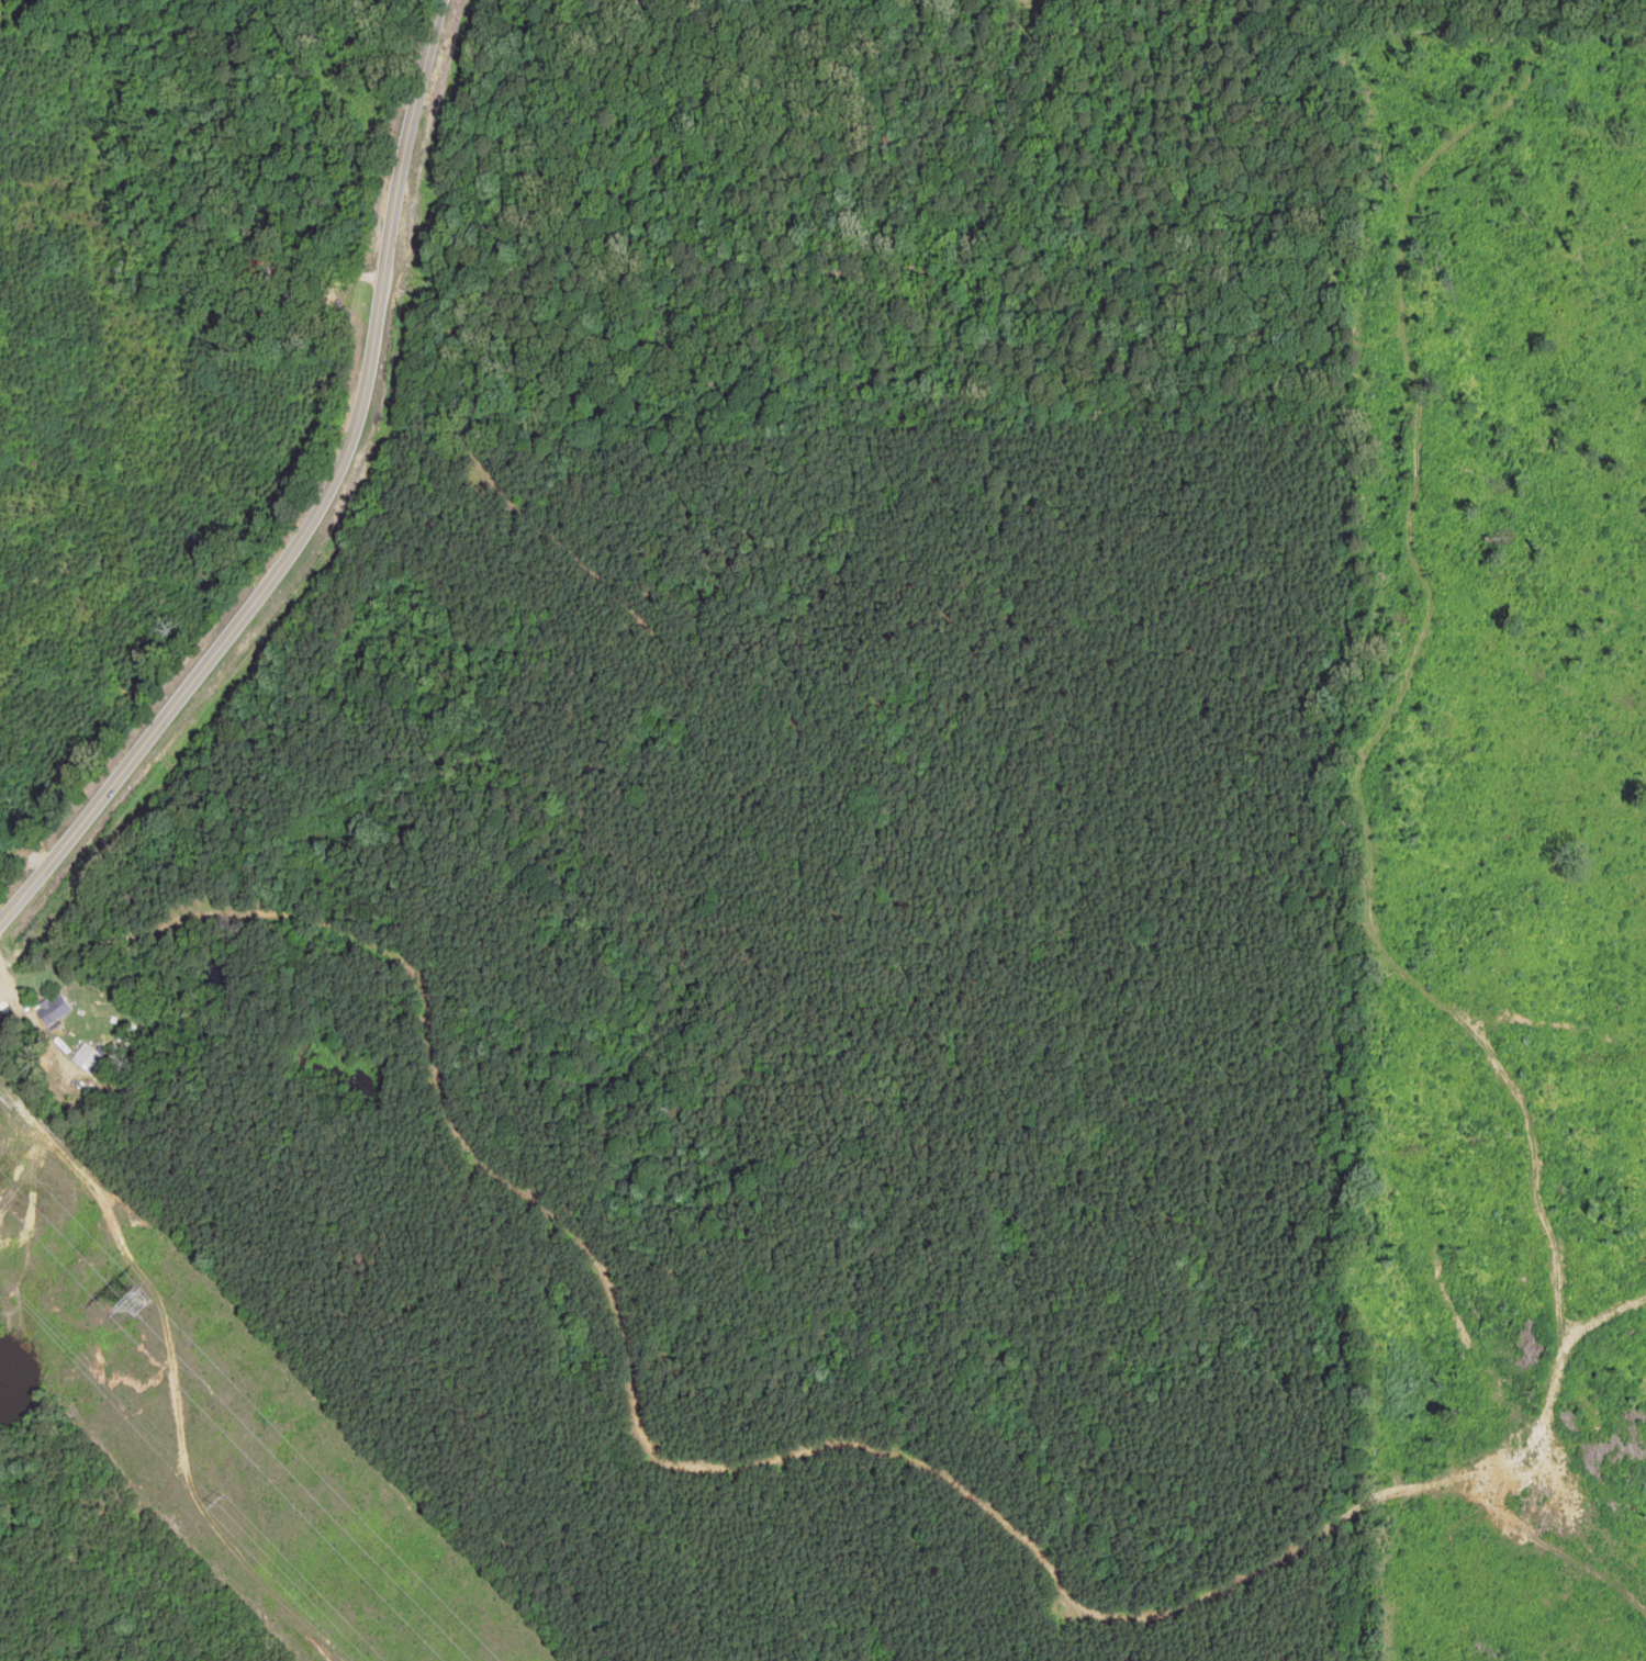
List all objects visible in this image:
road: (328, 506)
building: (54, 1009)
power tower: (112, 1302)
power tower: (219, 1500)

